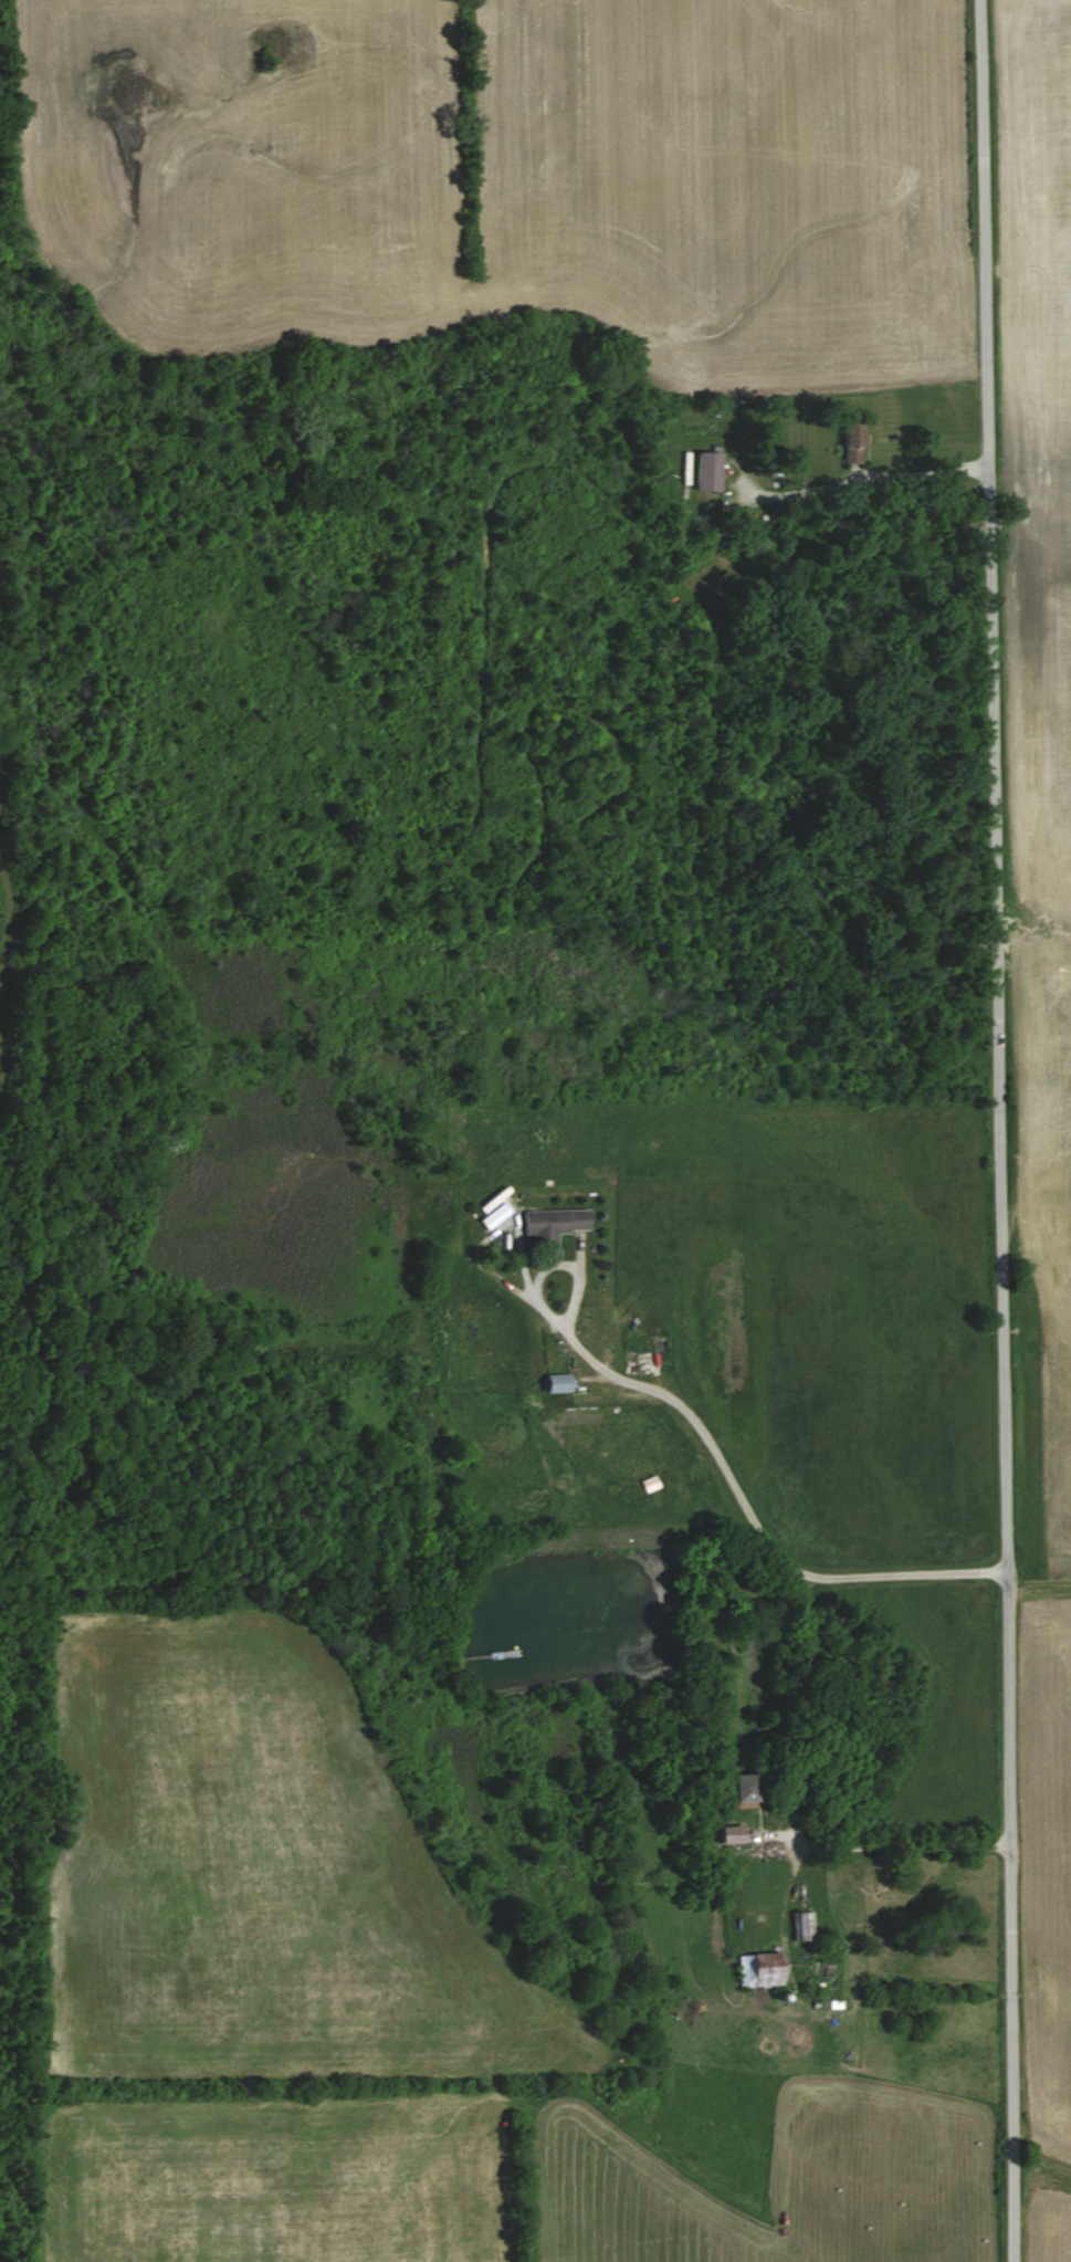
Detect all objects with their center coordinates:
building: (858, 444)
building: (712, 472)
road: (867, 474)
road: (999, 1130)
building: (493, 1202)
building: (494, 1218)
building: (557, 1222)
building: (561, 1382)
road: (714, 1447)
building: (748, 1789)
road: (890, 1846)
building: (805, 1926)
building: (763, 1972)

